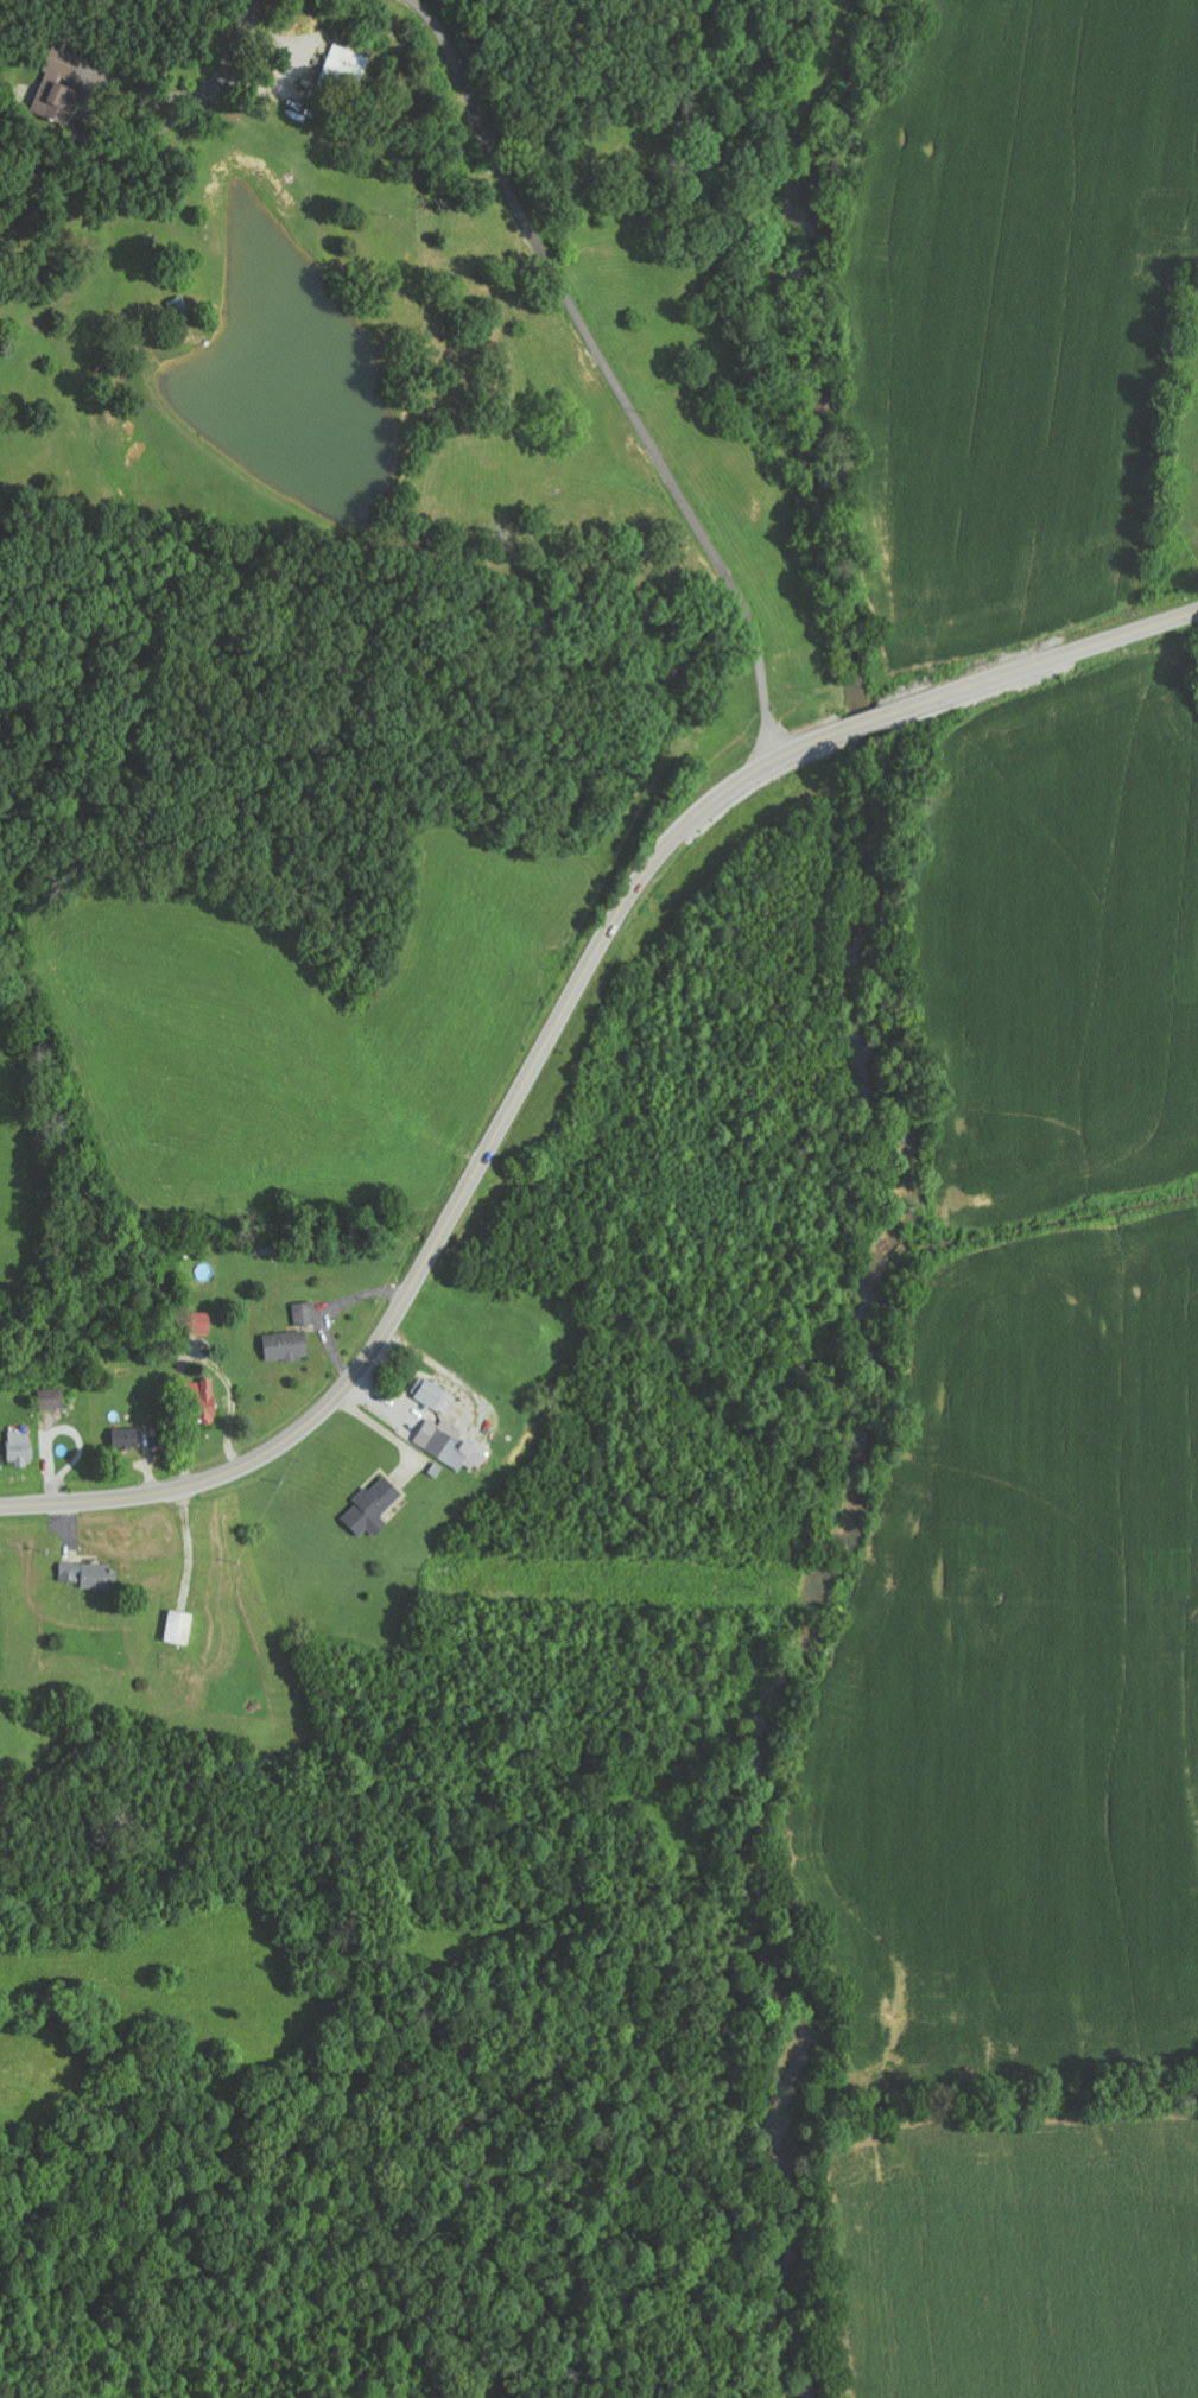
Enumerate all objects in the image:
road: (191, 25)
building: (347, 65)
building: (61, 87)
road: (947, 176)
road: (720, 614)
road: (1181, 616)
road: (547, 1039)
building: (305, 1313)
building: (197, 1324)
building: (287, 1345)
building: (436, 1396)
building: (53, 1398)
building: (205, 1401)
building: (127, 1439)
building: (450, 1445)
building: (21, 1448)
building: (374, 1508)
building: (91, 1574)
road: (62, 1993)

